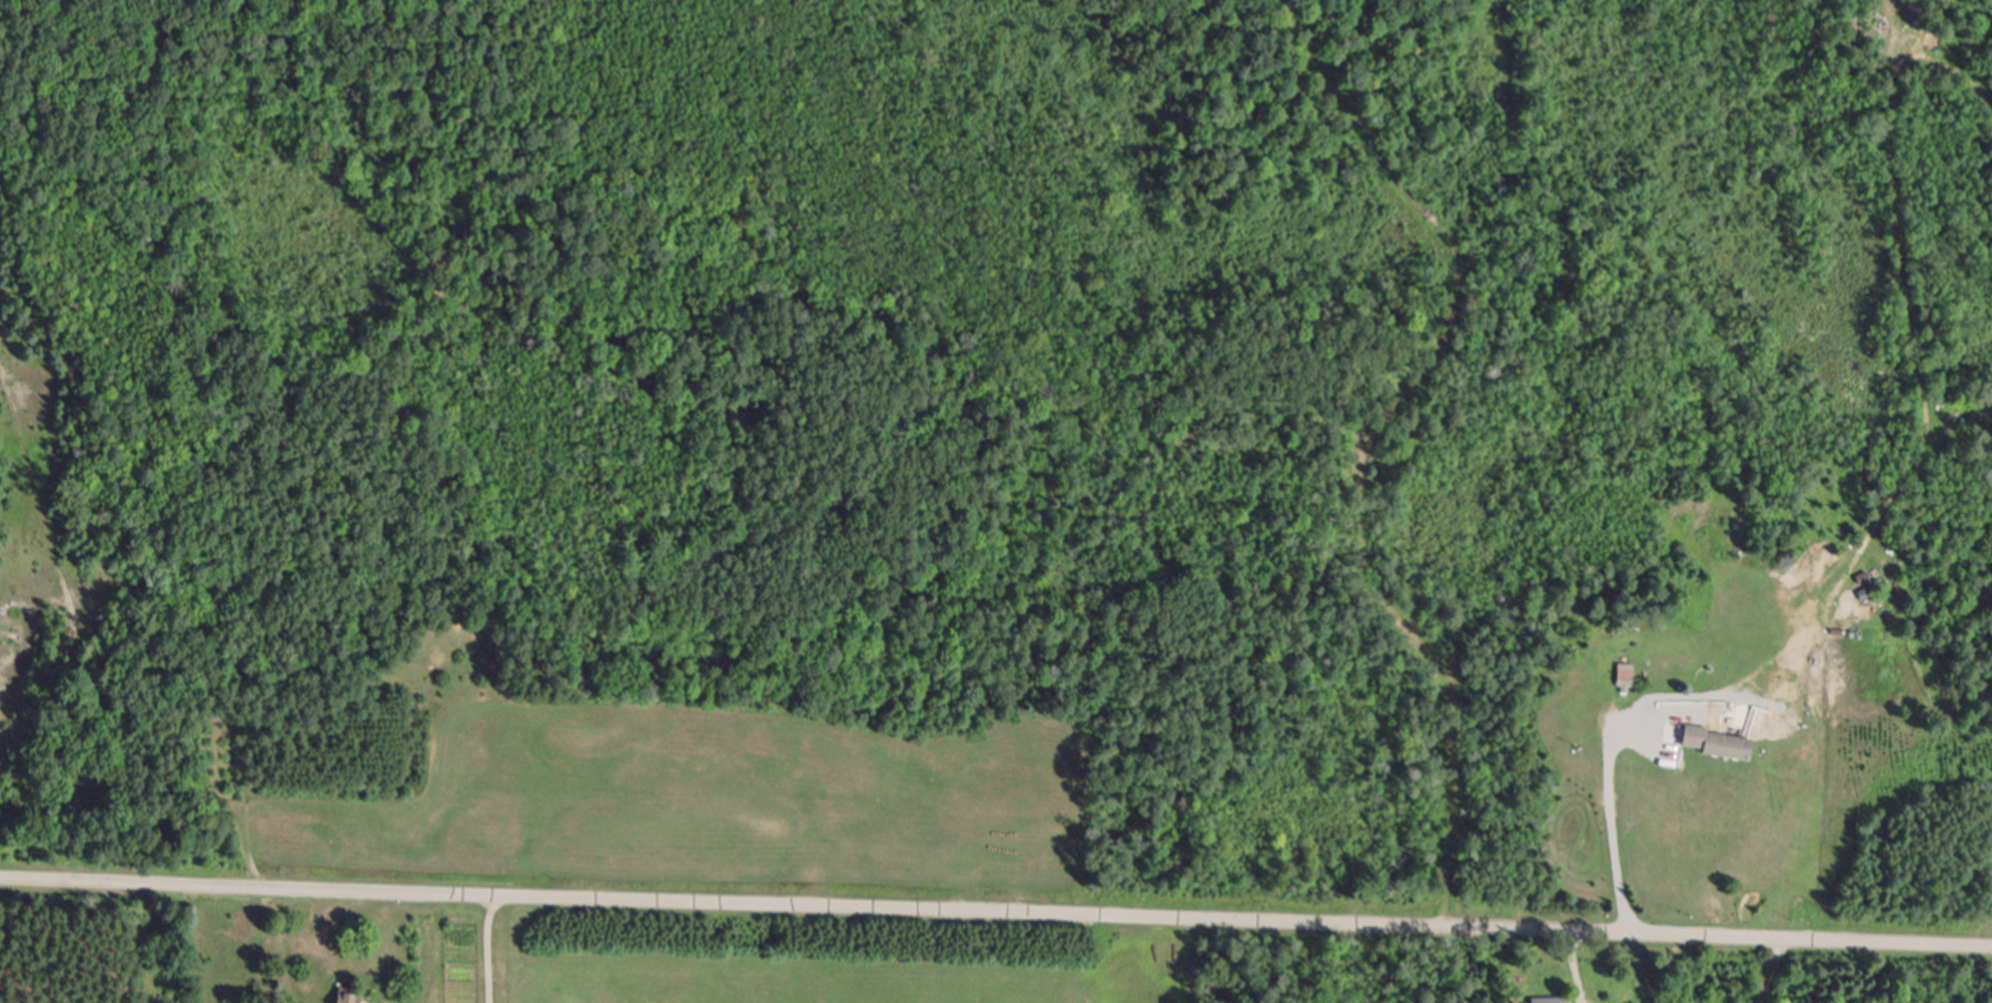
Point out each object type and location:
building: (1628, 674)
building: (1723, 741)
road: (1612, 833)
road: (996, 911)
road: (487, 948)
road: (1573, 968)
road: (1774, 971)
building: (1544, 1000)

